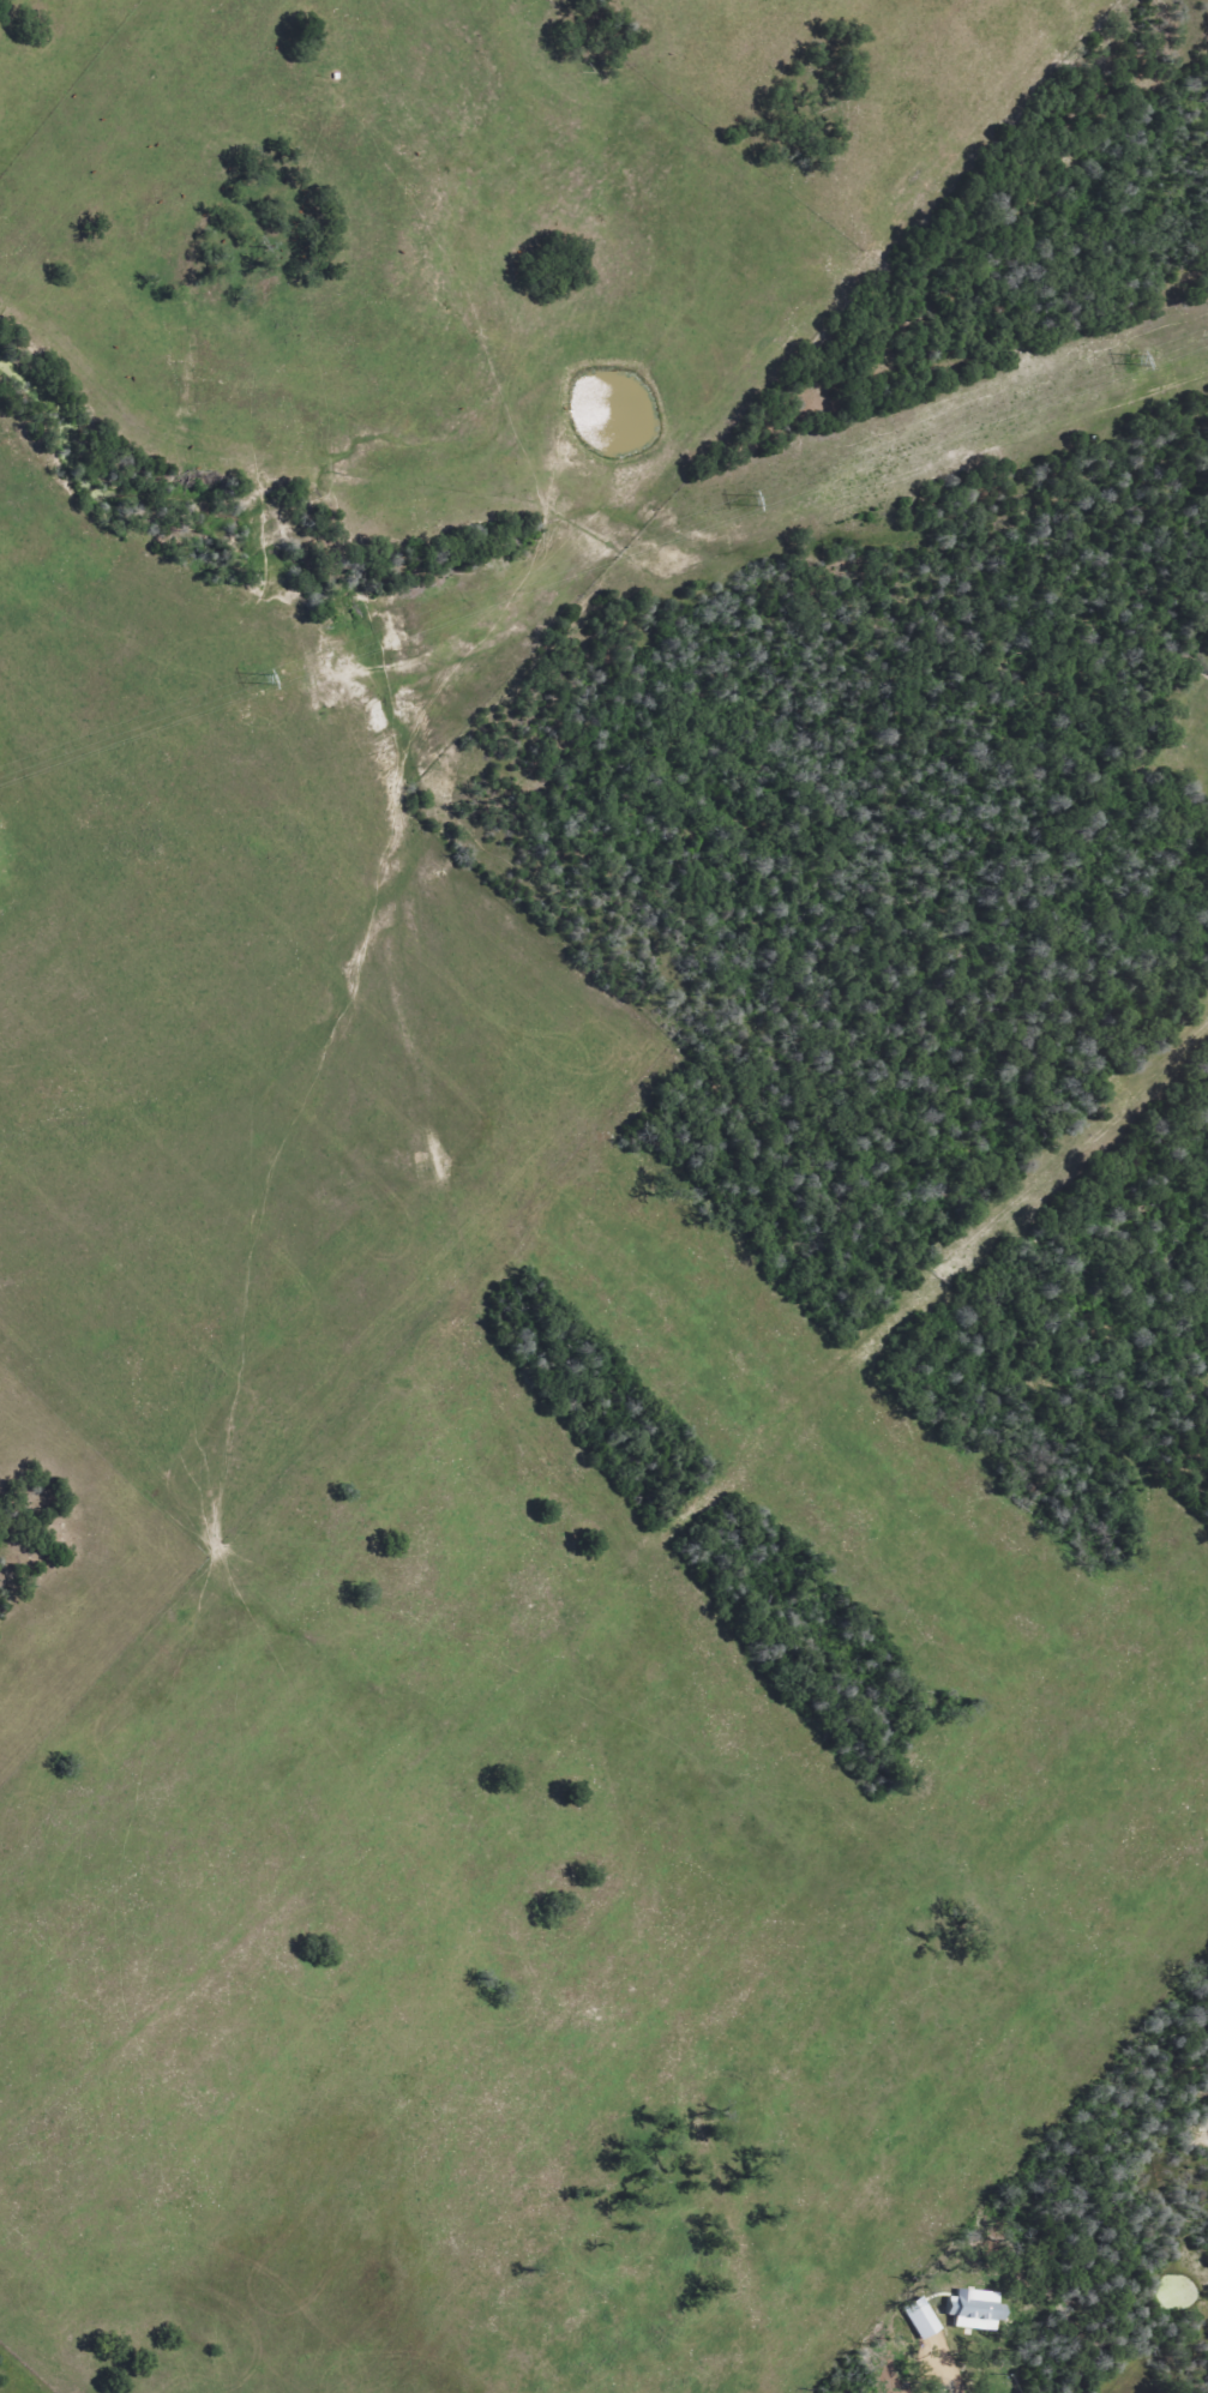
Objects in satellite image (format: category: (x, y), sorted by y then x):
power tower: (1114, 365)
power tower: (727, 505)
power tower: (275, 683)
building: (974, 2310)
building: (920, 2319)
road: (948, 2368)

